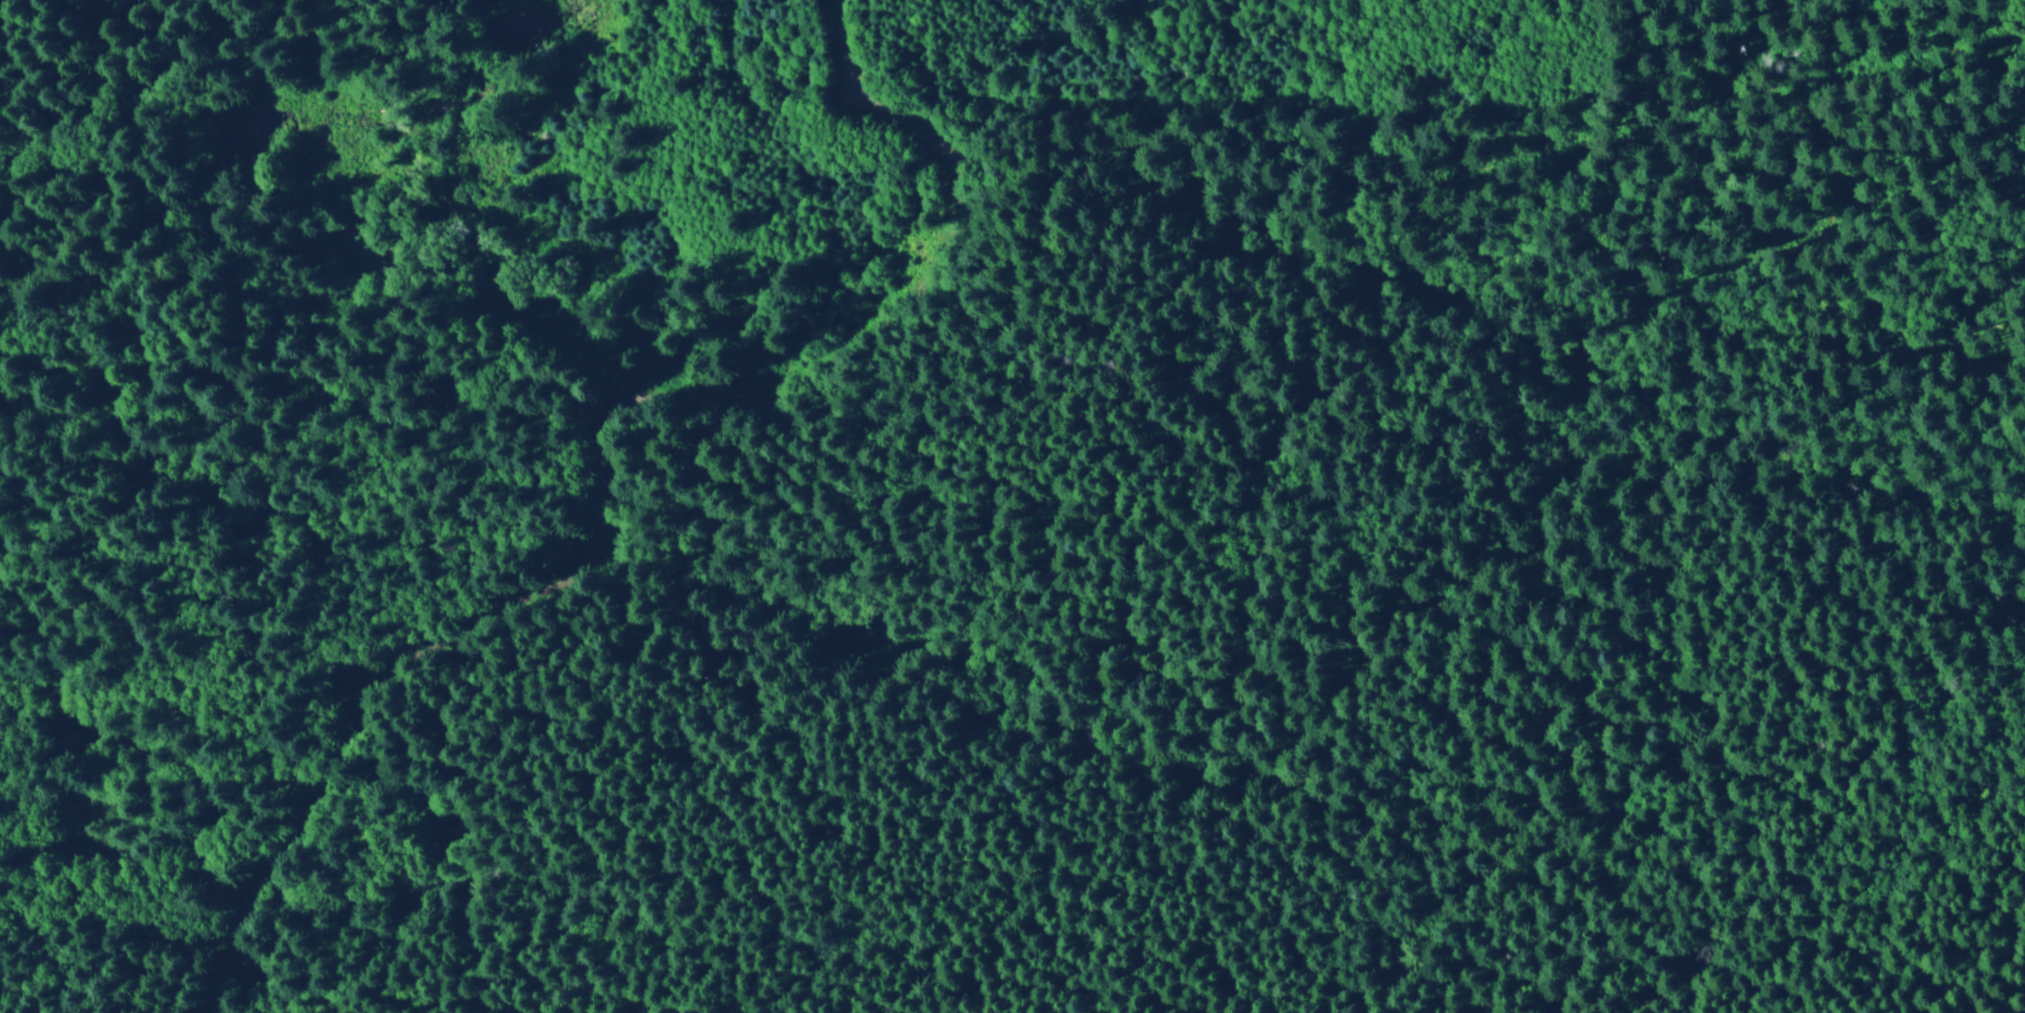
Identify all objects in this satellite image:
road: (581, 489)

